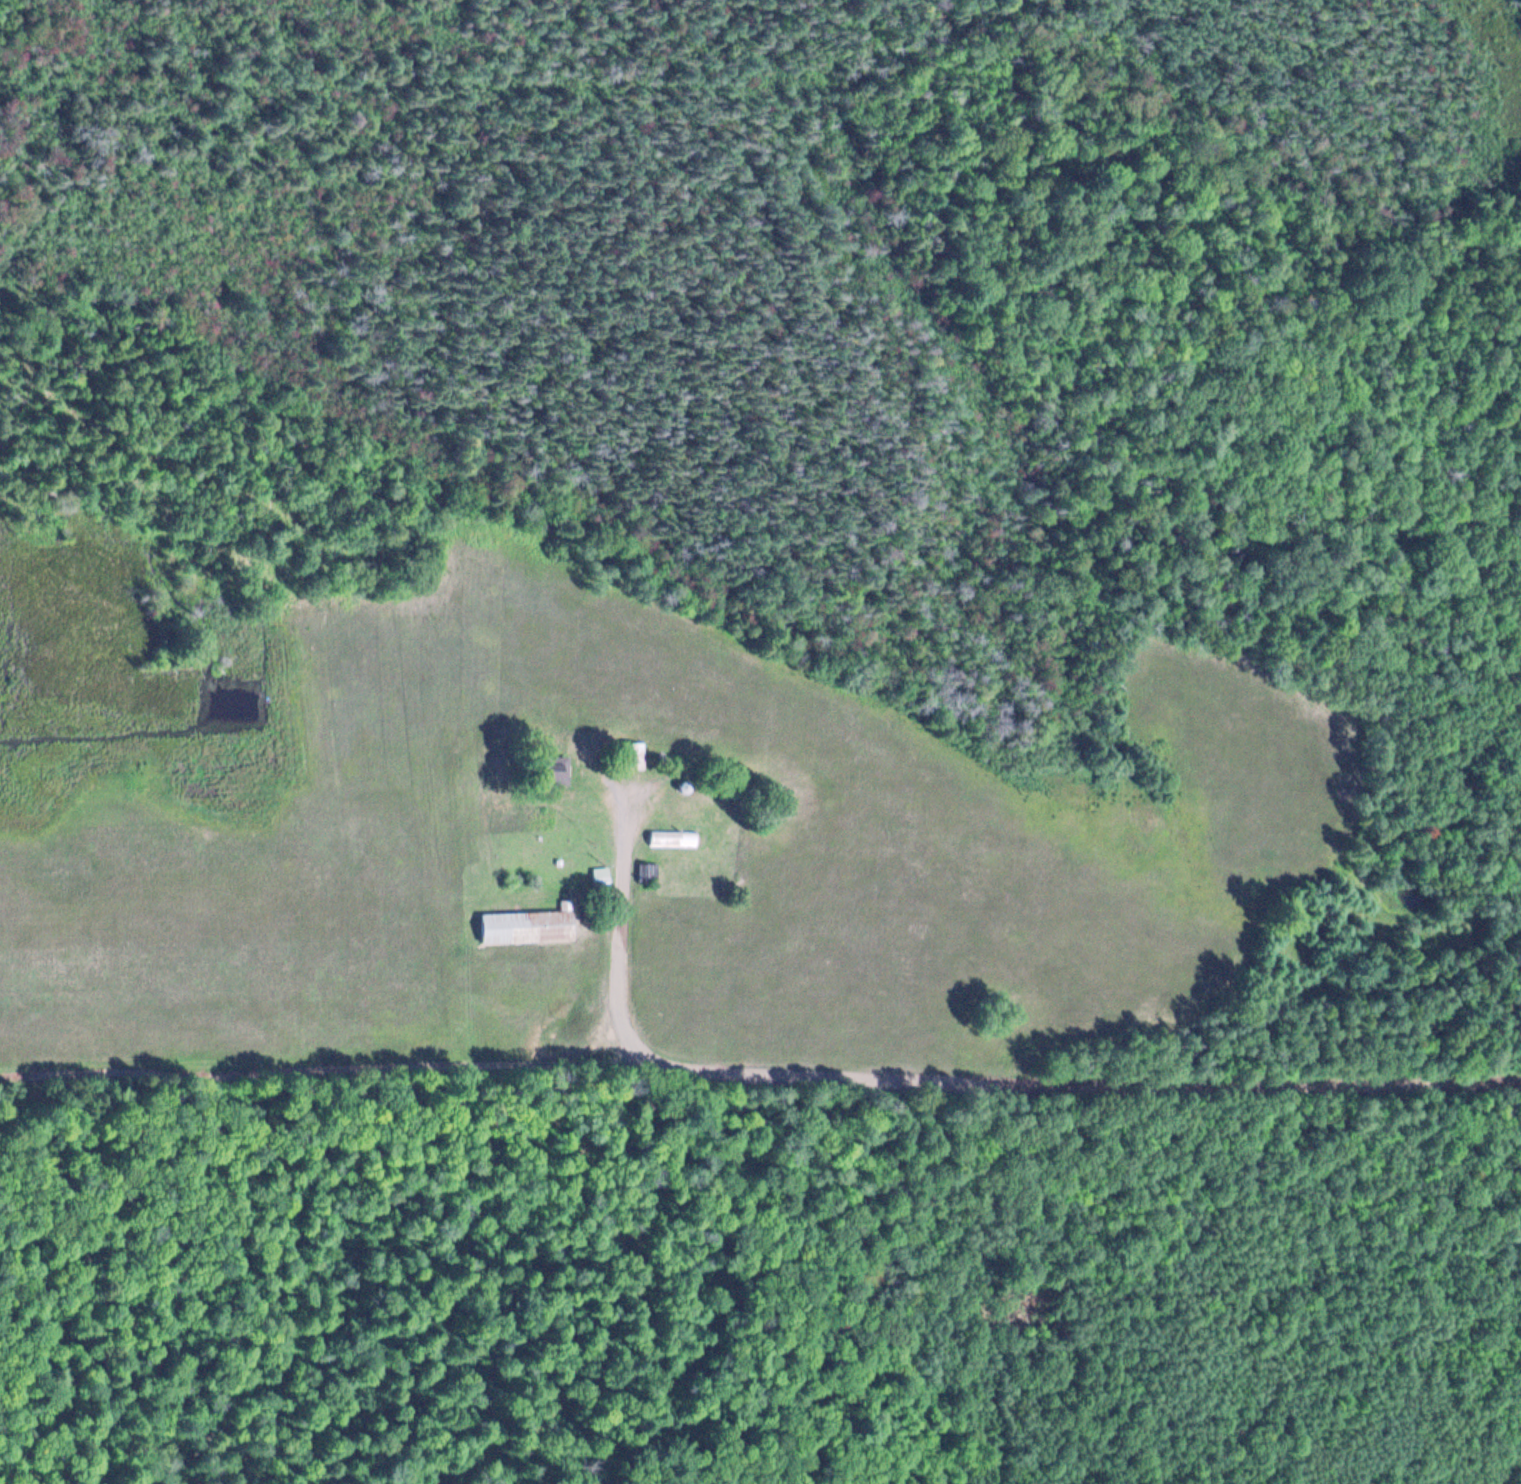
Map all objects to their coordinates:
building: (631, 756)
building: (553, 770)
building: (671, 839)
building: (599, 874)
building: (528, 925)
road: (760, 1078)
road: (955, 1283)

